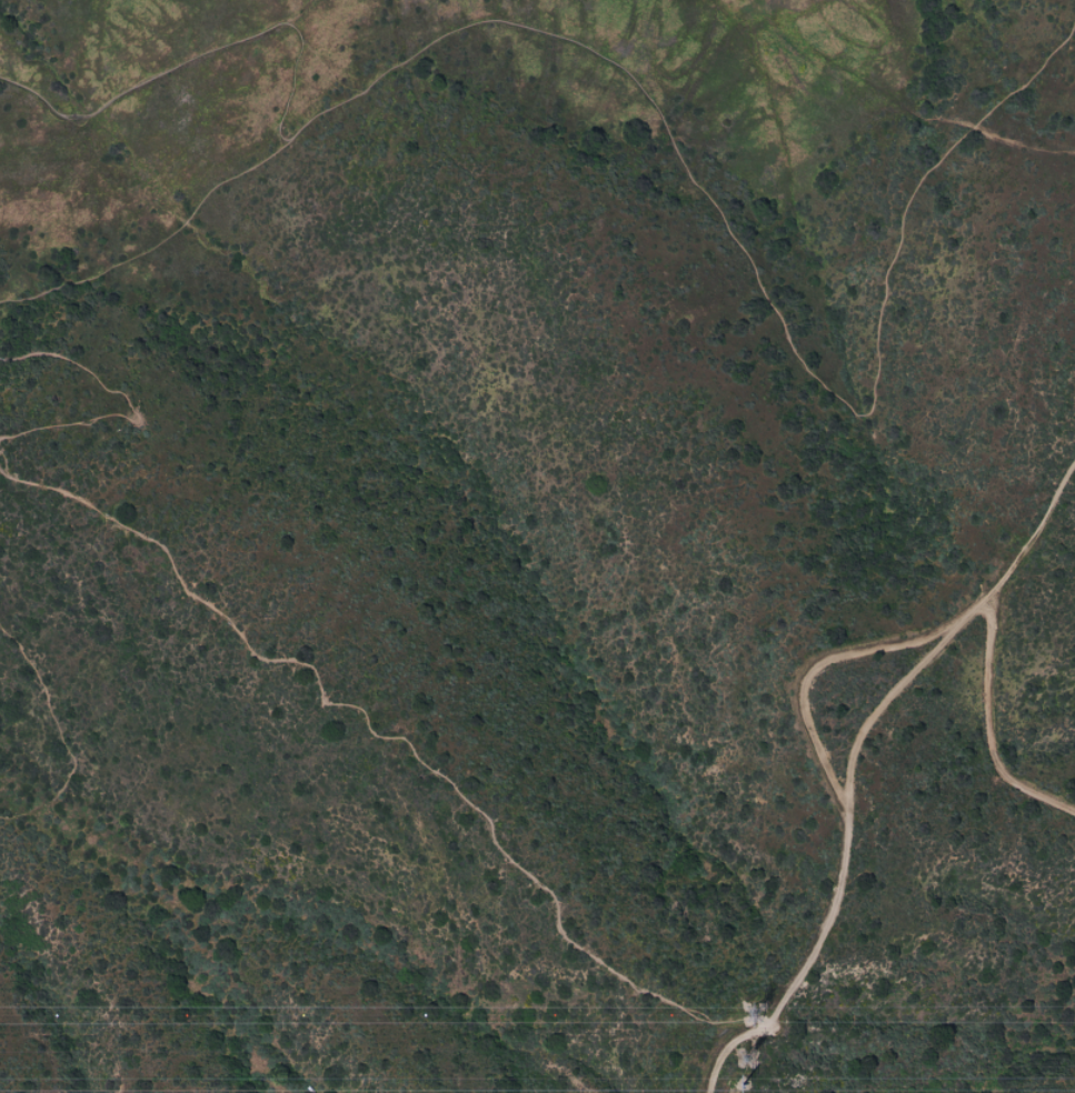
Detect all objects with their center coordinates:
road: (301, 16)
road: (650, 103)
road: (159, 240)
road: (122, 400)
road: (1029, 532)
road: (886, 695)
road: (988, 731)
road: (59, 732)
road: (395, 739)
road: (840, 803)
power tower: (758, 1020)
power tower: (753, 1065)

